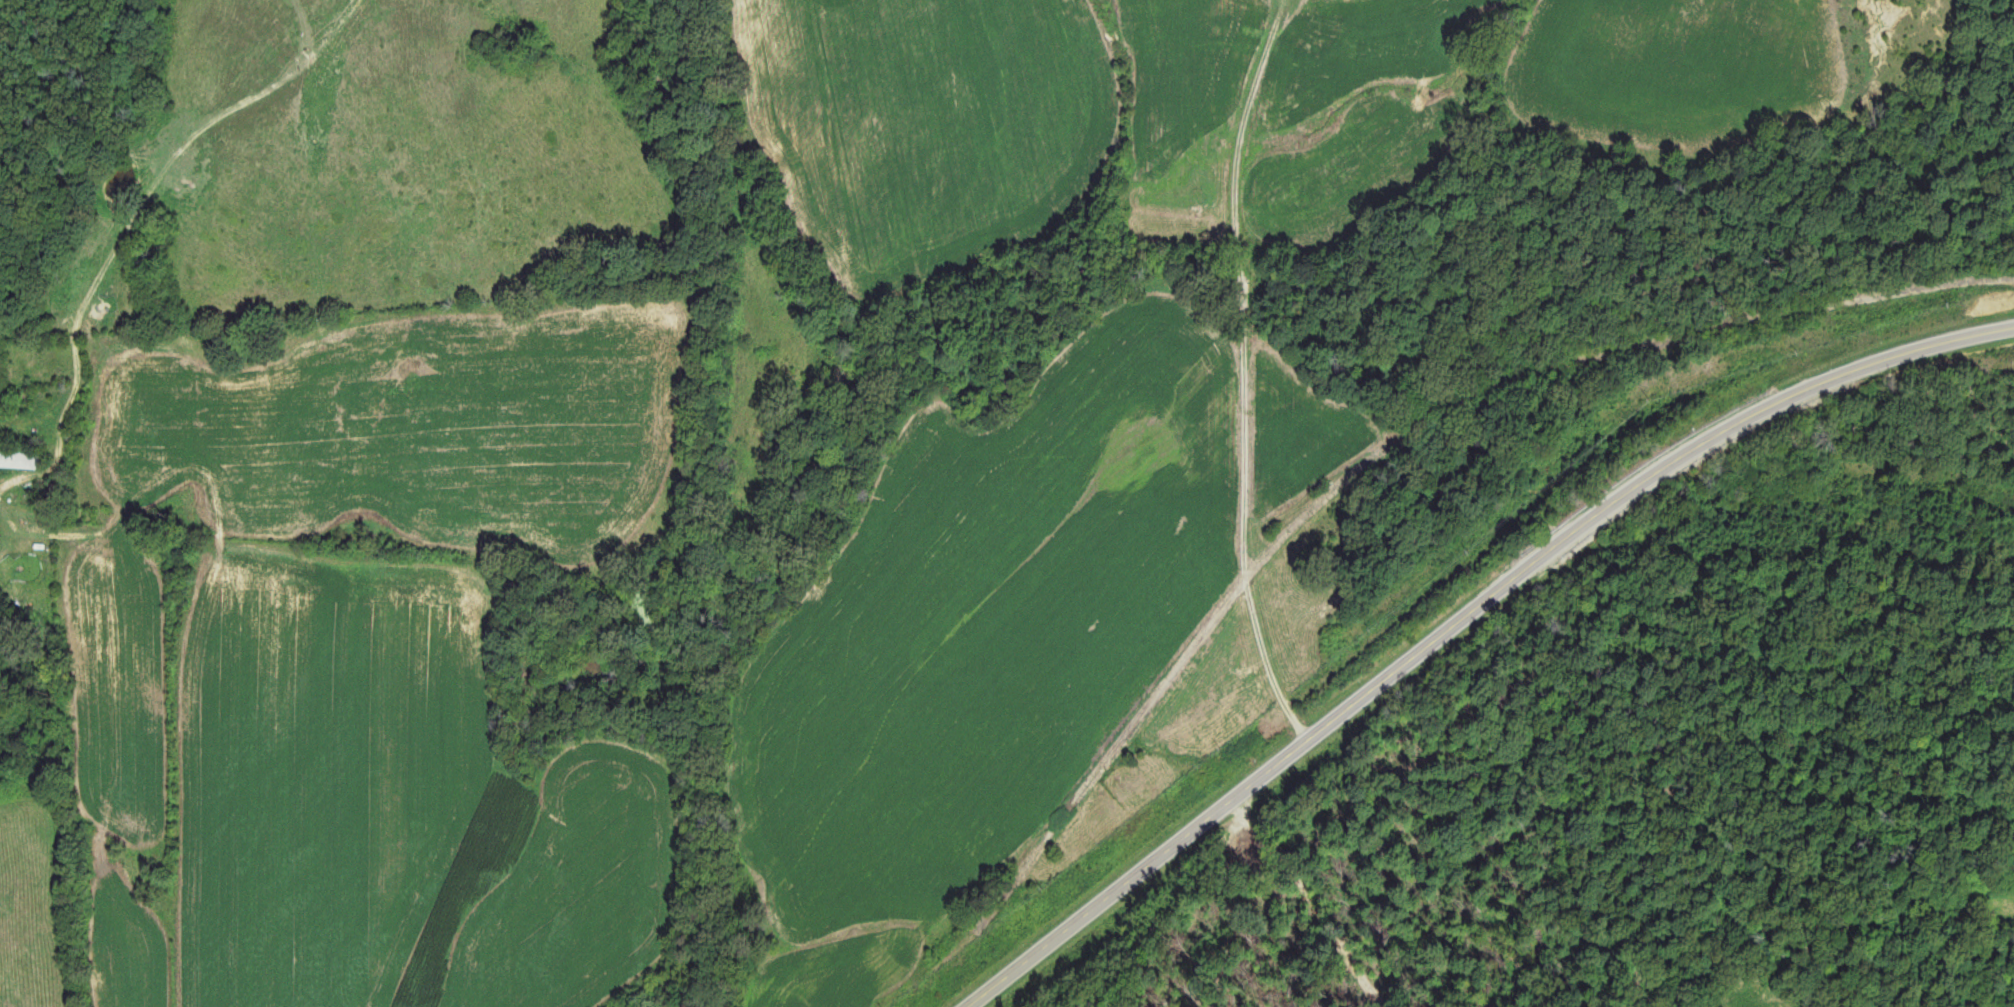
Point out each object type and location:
building: (24, 458)
road: (1461, 614)

